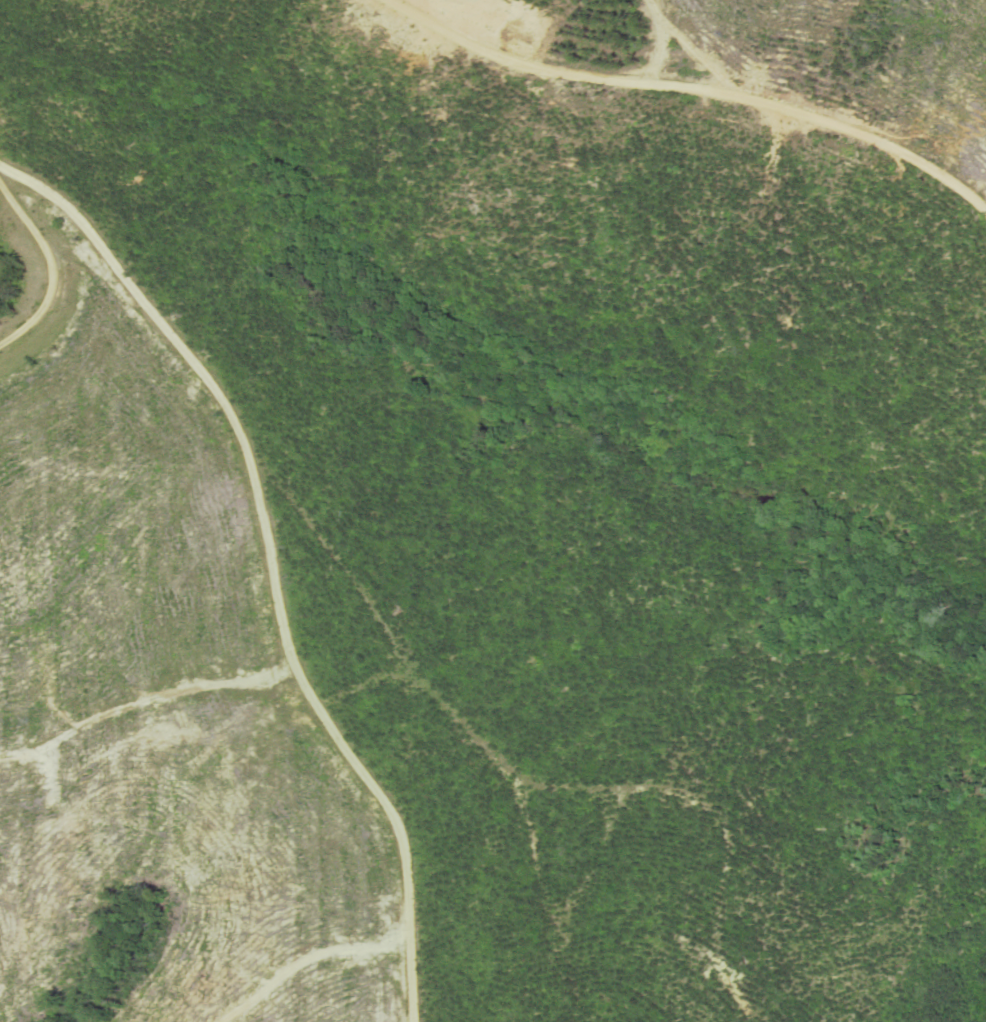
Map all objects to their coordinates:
road: (698, 84)
road: (6, 174)
road: (270, 569)

